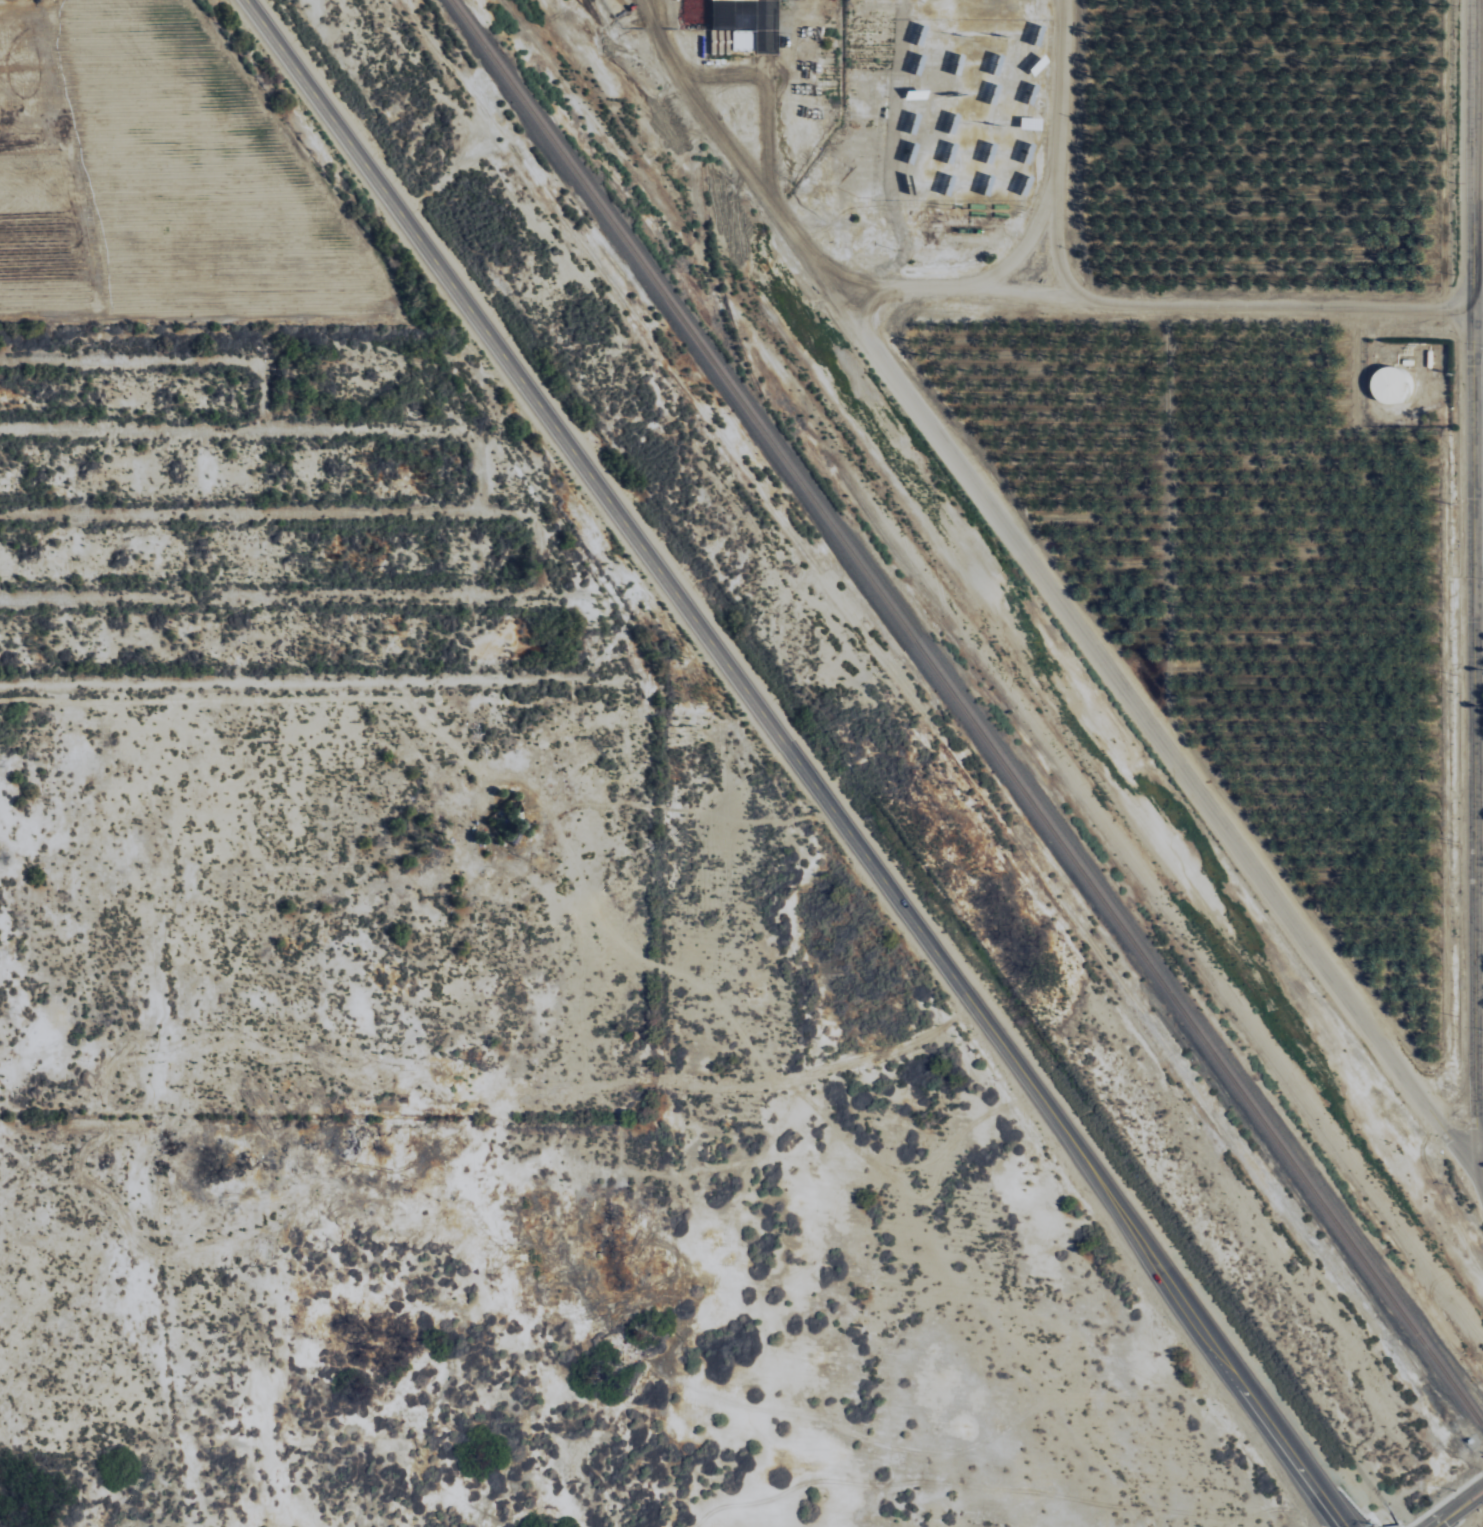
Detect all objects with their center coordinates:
road: (702, 104)
road: (1051, 154)
road: (776, 207)
road: (1014, 245)
road: (1156, 300)
road: (1477, 307)
road: (235, 316)
building: (1388, 384)
road: (1476, 540)
road: (1480, 608)
railway: (965, 712)
road: (1162, 741)
road: (794, 763)
road: (1478, 914)
road: (1482, 1169)
road: (1460, 1510)

